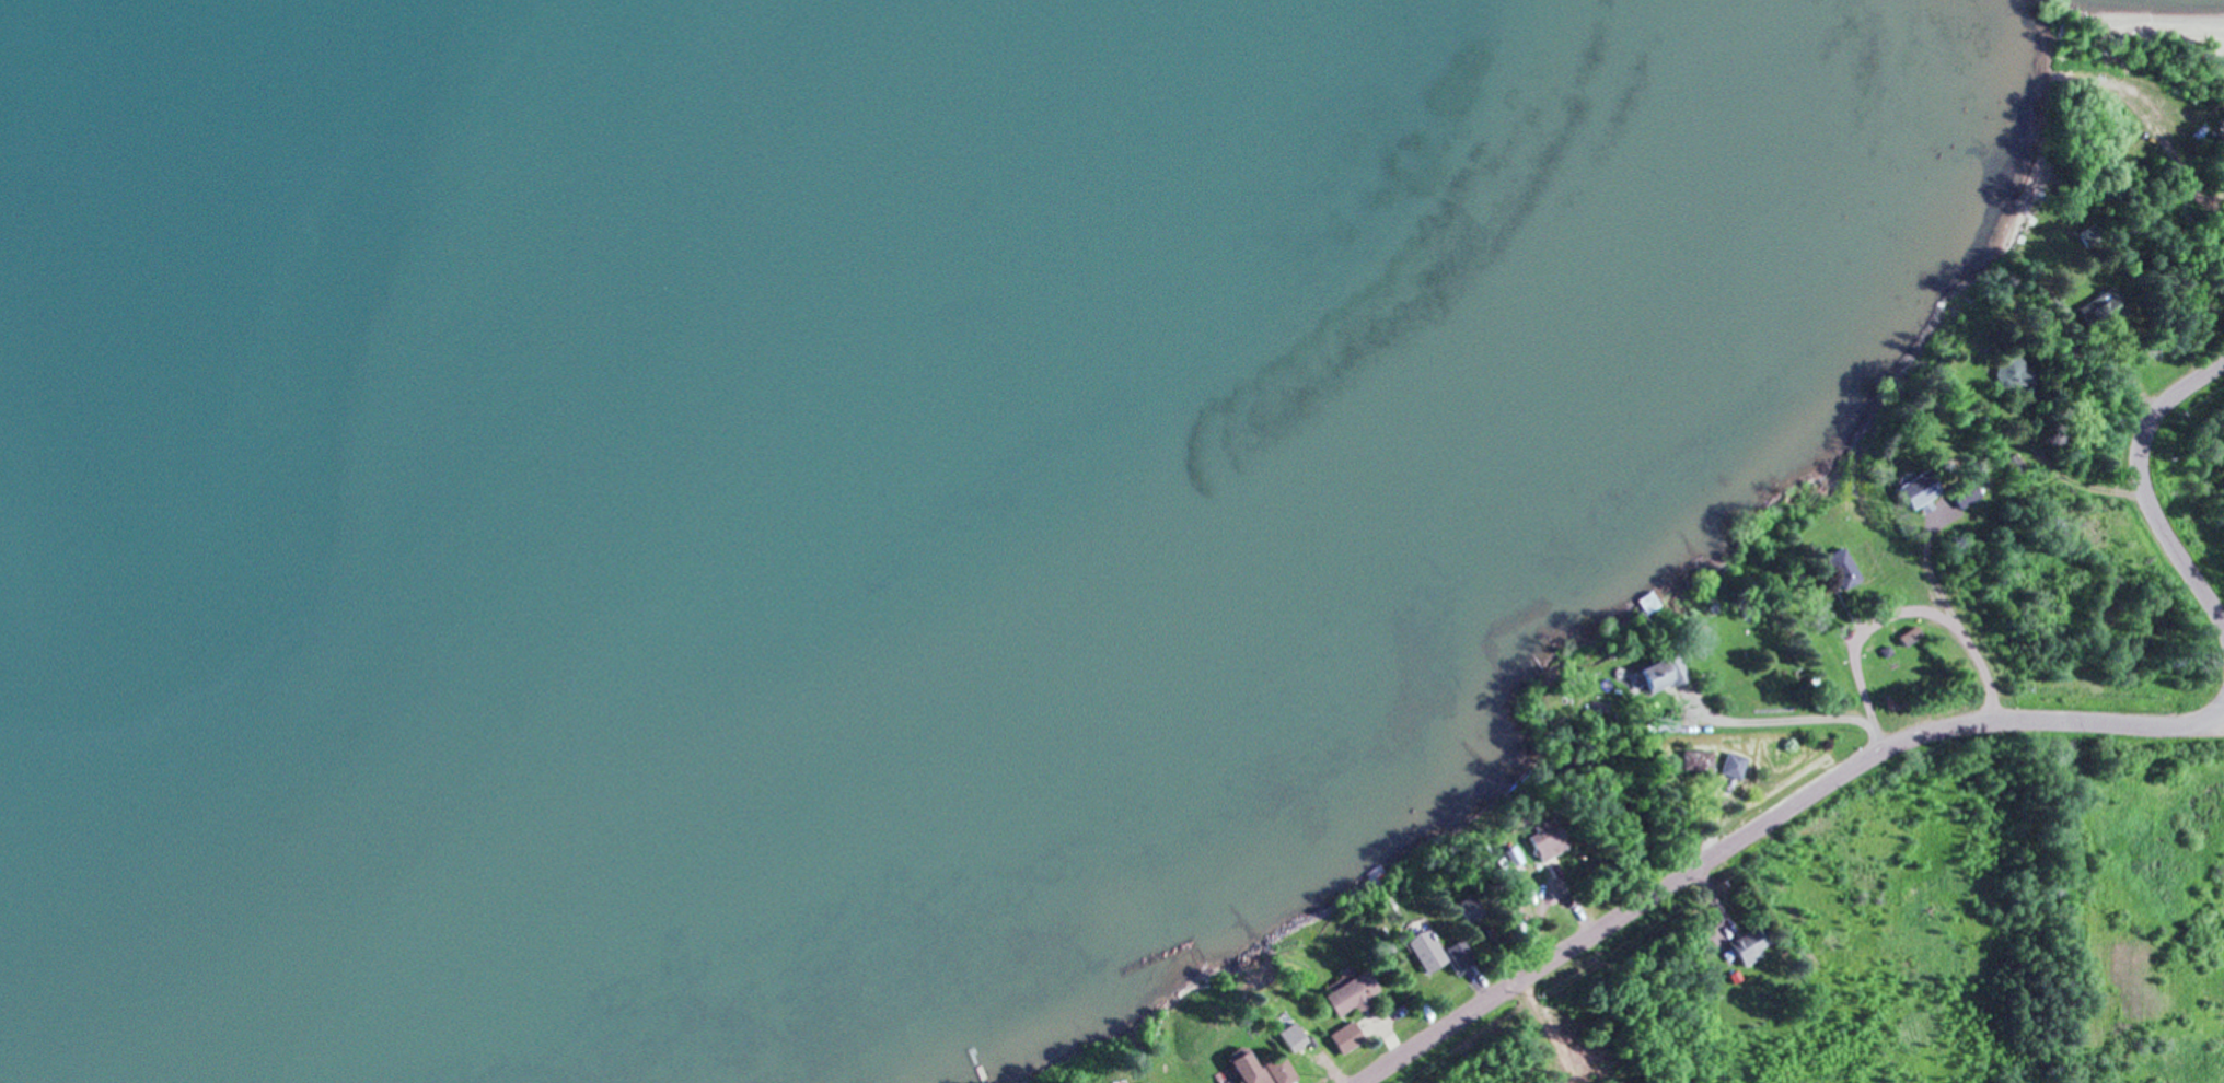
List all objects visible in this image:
building: (2087, 232)
building: (2099, 308)
building: (2009, 371)
road: (2177, 391)
building: (2013, 464)
building: (1915, 489)
building: (1965, 494)
road: (2167, 537)
building: (1841, 567)
building: (1652, 602)
building: (1908, 634)
building: (1663, 673)
road: (2220, 708)
road: (2220, 714)
building: (1664, 722)
building: (1696, 760)
building: (1733, 765)
road: (1762, 824)
building: (1544, 839)
building: (1511, 854)
building: (1468, 908)
building: (1748, 945)
building: (1424, 950)
building: (1459, 953)
building: (1706, 967)
building: (1352, 988)
building: (1290, 1035)
building: (1345, 1036)
building: (1259, 1069)

